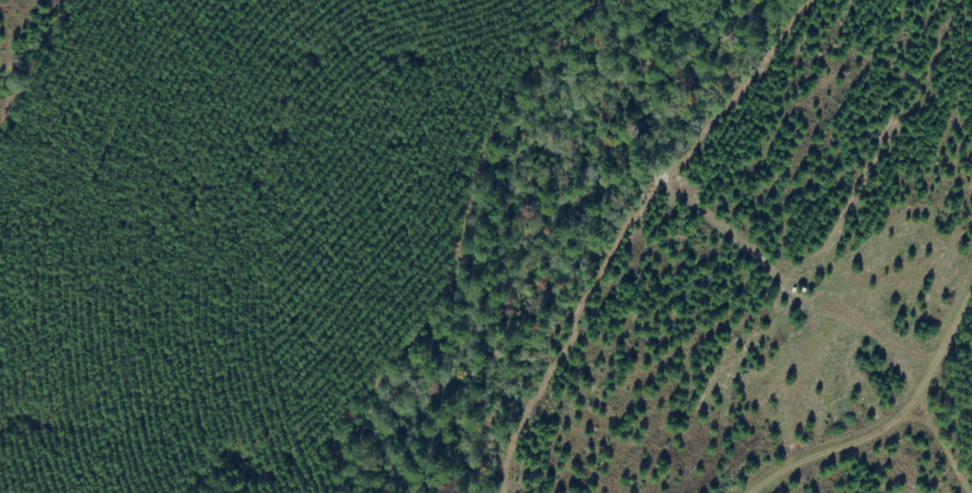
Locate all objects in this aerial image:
road: (912, 396)

